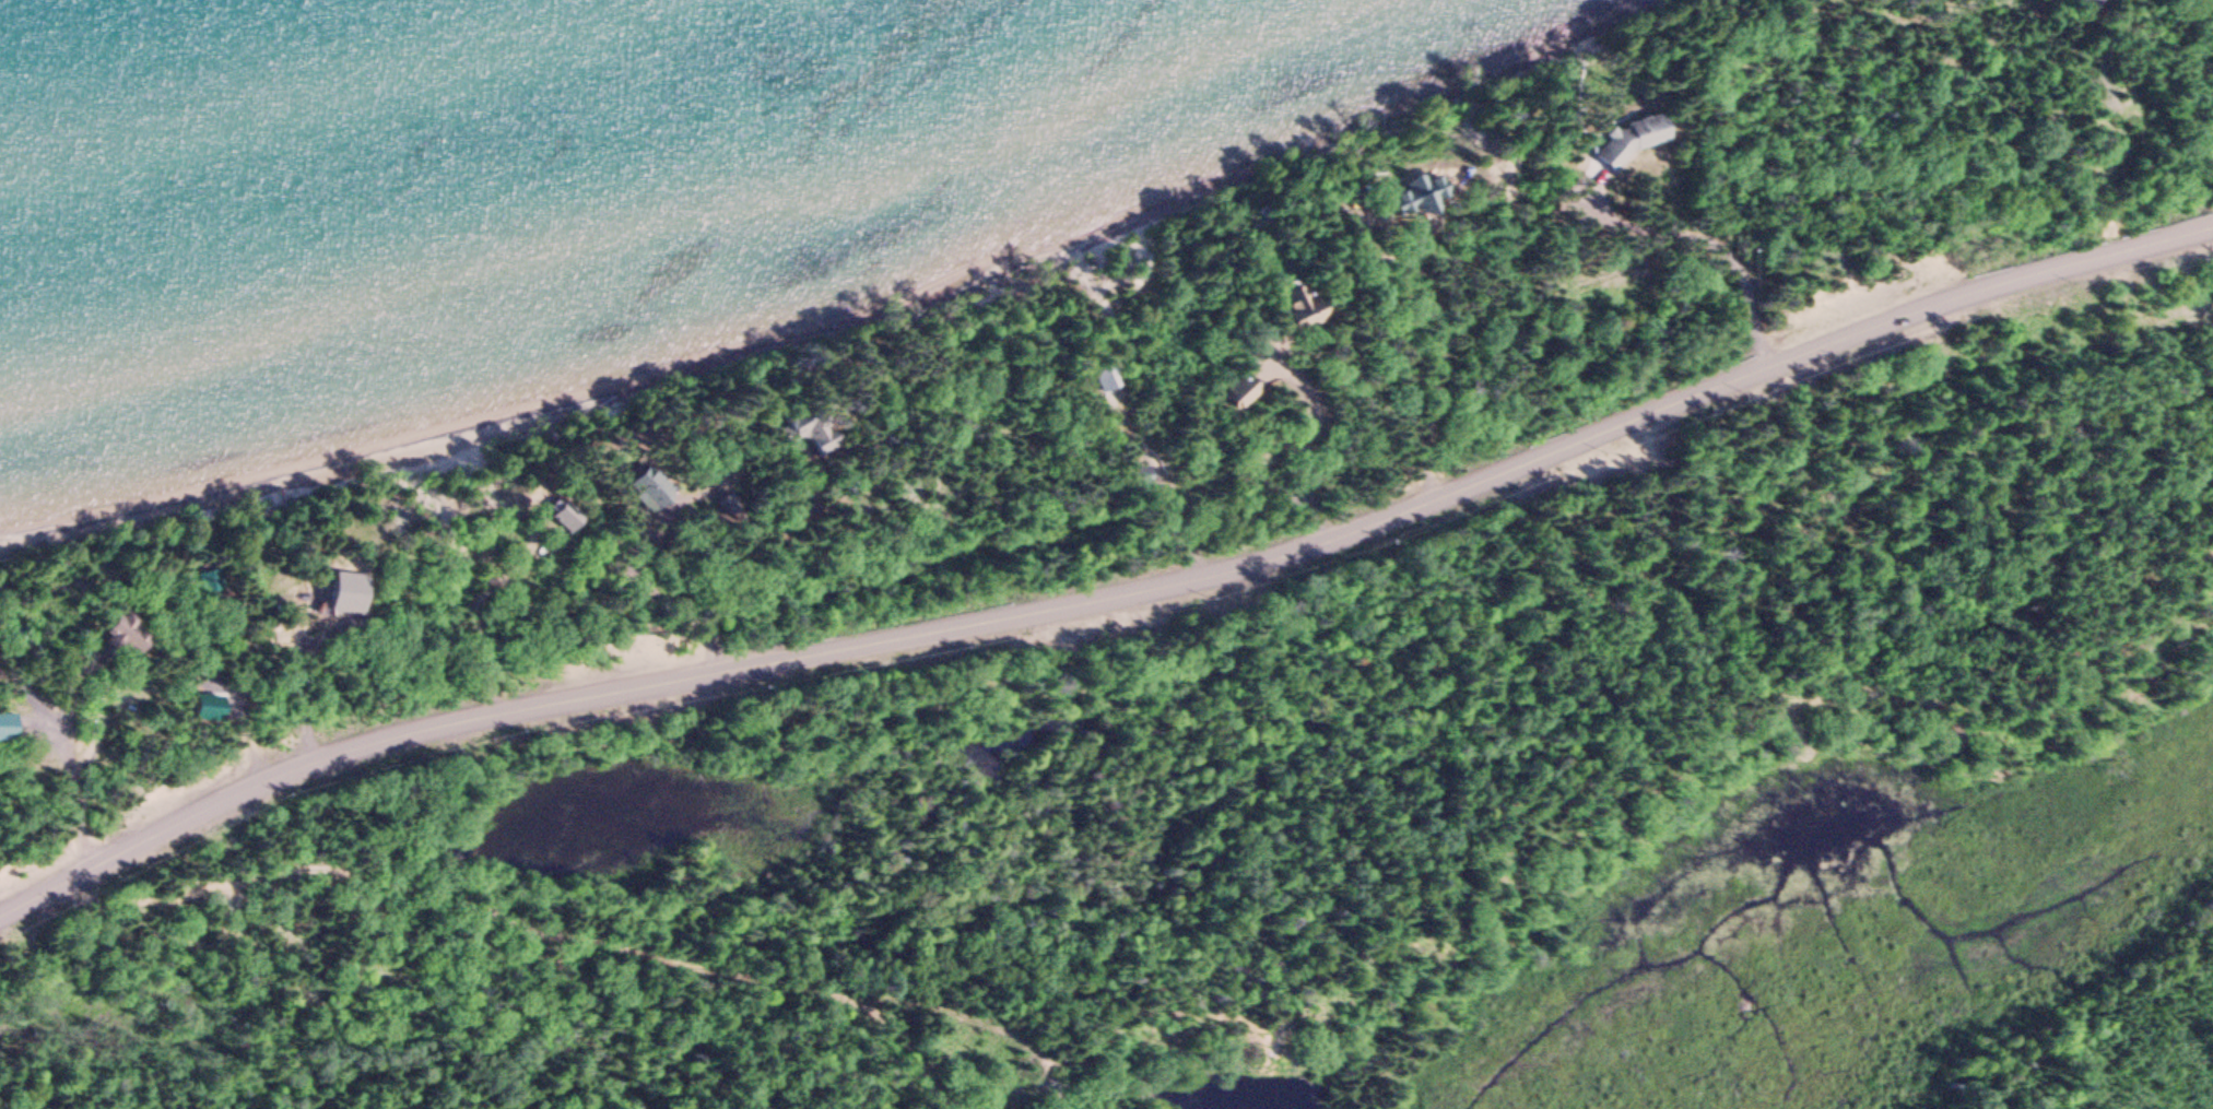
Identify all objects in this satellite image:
road: (1296, 441)
road: (1109, 593)
building: (122, 636)
building: (7, 728)

